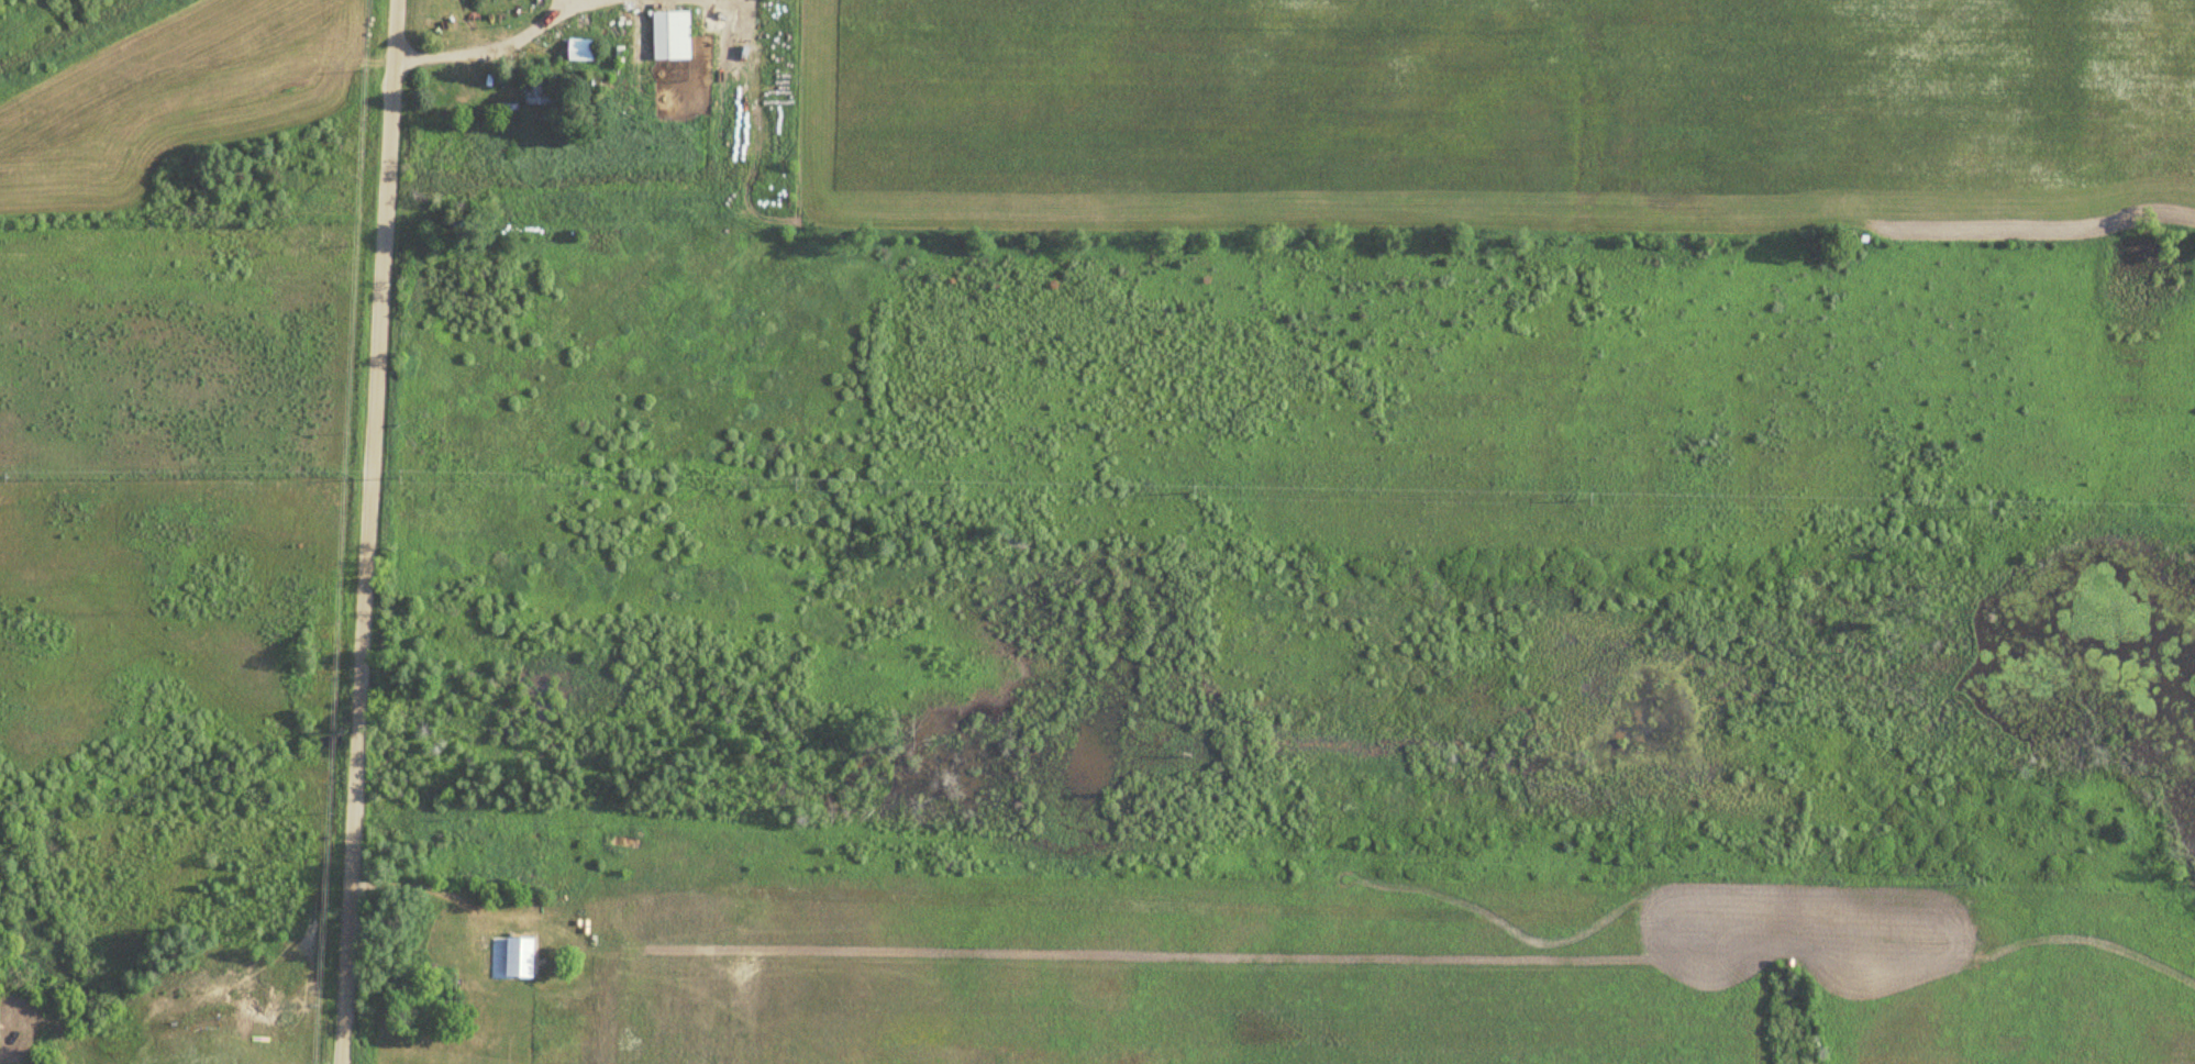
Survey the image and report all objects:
building: (667, 35)
building: (575, 49)
building: (542, 88)
road: (365, 531)
building: (513, 958)

